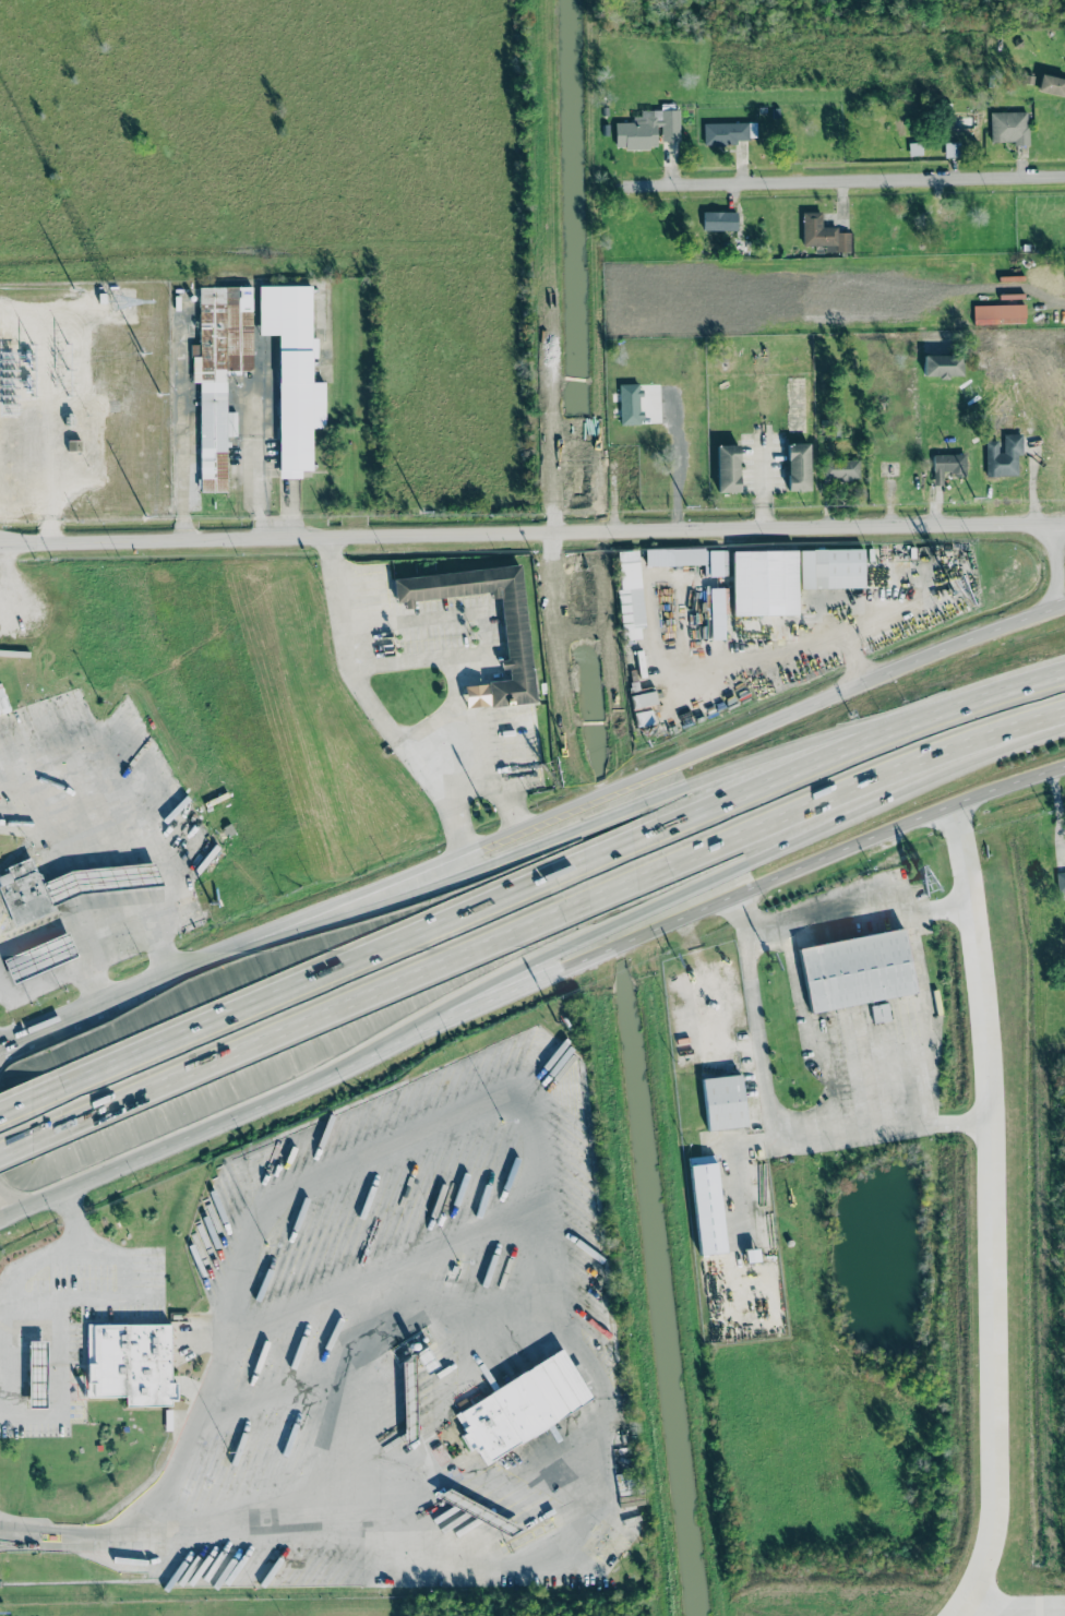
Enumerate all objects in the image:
building: (1051, 85)
building: (1008, 127)
building: (646, 129)
building: (726, 132)
building: (913, 148)
building: (950, 148)
road: (843, 179)
building: (718, 220)
building: (822, 232)
building: (998, 313)
building: (942, 364)
building: (219, 371)
building: (295, 378)
power substation: (84, 399)
road: (48, 400)
building: (629, 403)
road: (181, 421)
building: (1002, 455)
road: (684, 463)
road: (258, 465)
building: (946, 465)
building: (798, 466)
building: (727, 467)
building: (840, 469)
road: (1032, 481)
road: (531, 531)
building: (689, 559)
building: (840, 564)
road: (1054, 568)
building: (629, 594)
building: (717, 606)
building: (514, 634)
road: (806, 639)
road: (962, 641)
road: (852, 655)
road: (1048, 675)
building: (643, 698)
building: (2, 699)
road: (369, 702)
road: (788, 714)
road: (481, 738)
road: (689, 756)
road: (1056, 811)
road: (613, 818)
road: (117, 853)
road: (430, 862)
building: (1058, 877)
building: (99, 878)
gas station: (99, 878)
road: (527, 884)
building: (23, 891)
road: (666, 898)
road: (937, 906)
road: (822, 913)
road: (546, 921)
road: (70, 927)
road: (160, 953)
building: (39, 956)
gas station: (39, 956)
building: (857, 971)
road: (149, 980)
road: (528, 982)
building: (878, 1013)
road: (57, 1020)
road: (5, 1040)
road: (5, 1043)
road: (5, 1046)
building: (723, 1103)
road: (15, 1104)
road: (872, 1115)
road: (950, 1120)
road: (537, 1135)
road: (14, 1140)
road: (9, 1201)
building: (706, 1205)
road: (989, 1257)
road: (390, 1267)
road: (14, 1289)
road: (28, 1333)
road: (8, 1352)
building: (128, 1365)
building: (36, 1374)
gas station: (36, 1374)
building: (407, 1402)
gas station: (407, 1402)
building: (522, 1404)
gas station: (522, 1404)
road: (27, 1411)
road: (189, 1434)
building: (477, 1511)
gas station: (477, 1511)
road: (410, 1544)
road: (961, 1612)

